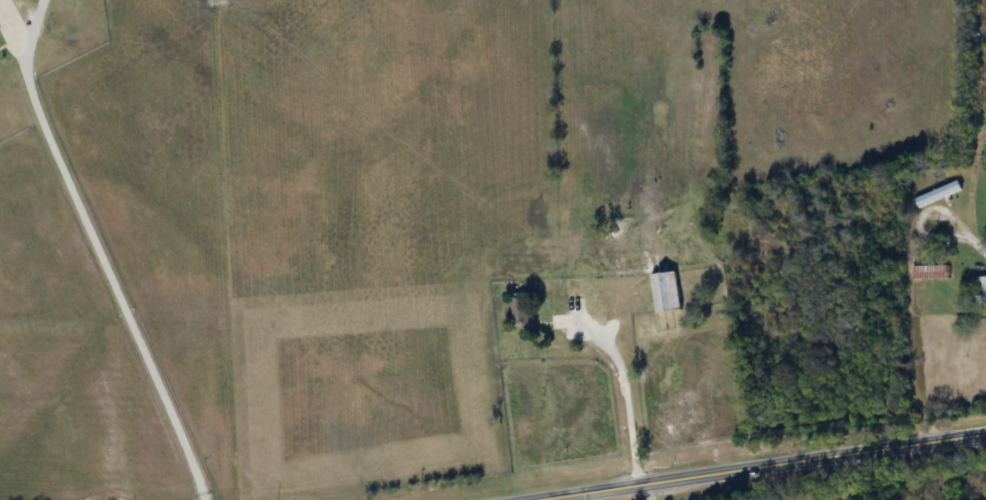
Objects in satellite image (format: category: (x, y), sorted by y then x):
building: (938, 195)
road: (975, 242)
road: (102, 263)
building: (931, 274)
building: (982, 291)
building: (666, 294)
building: (522, 314)
road: (624, 388)
road: (754, 464)

